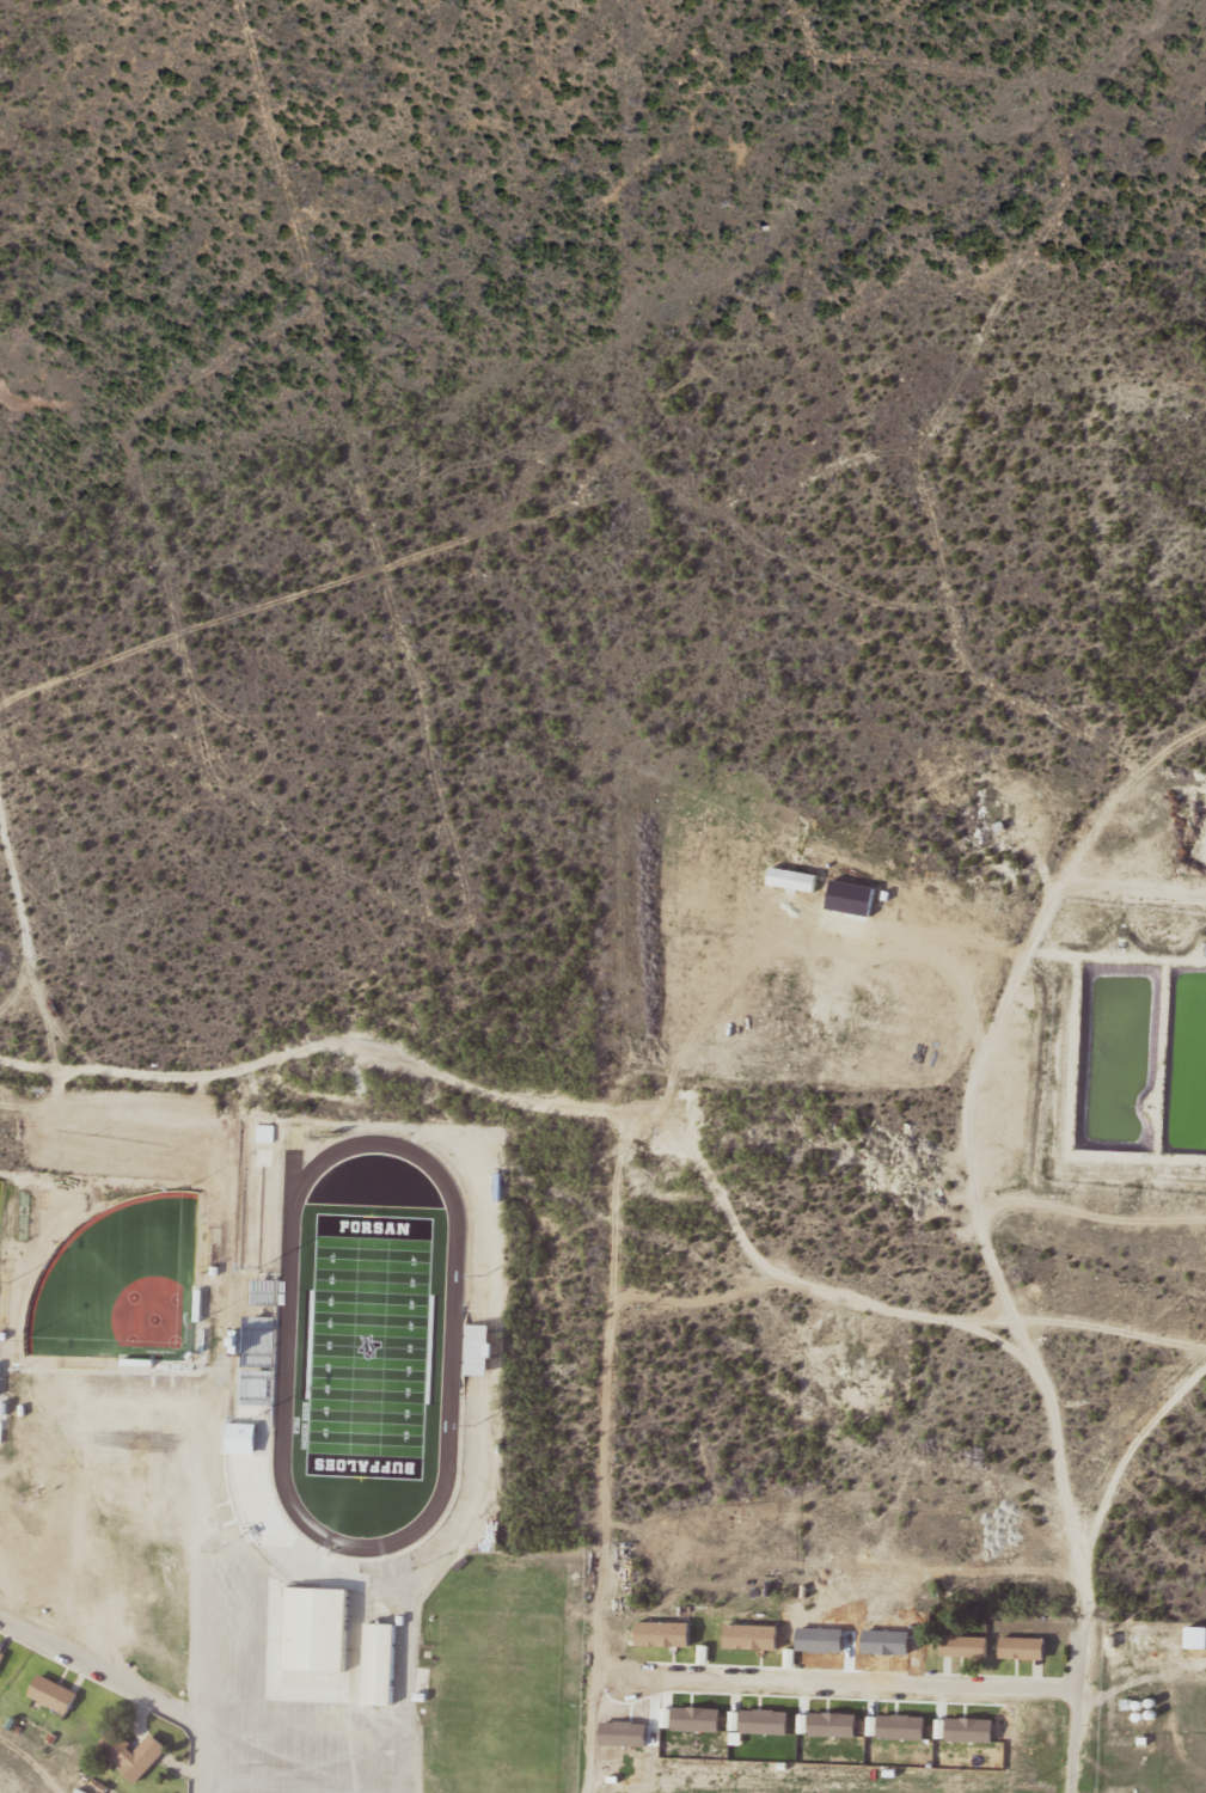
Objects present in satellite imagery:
road: (605, 1109)
building: (84, 1121)
park: (2, 1226)
park: (124, 1283)
track: (290, 1341)
park: (374, 1345)
building: (480, 1348)
building: (244, 1438)
building: (850, 1635)
building: (965, 1645)
building: (1024, 1647)
building: (2, 1658)
building: (381, 1664)
road: (802, 1677)
building: (55, 1693)
road: (136, 1699)
road: (1078, 1731)
building: (136, 1752)

